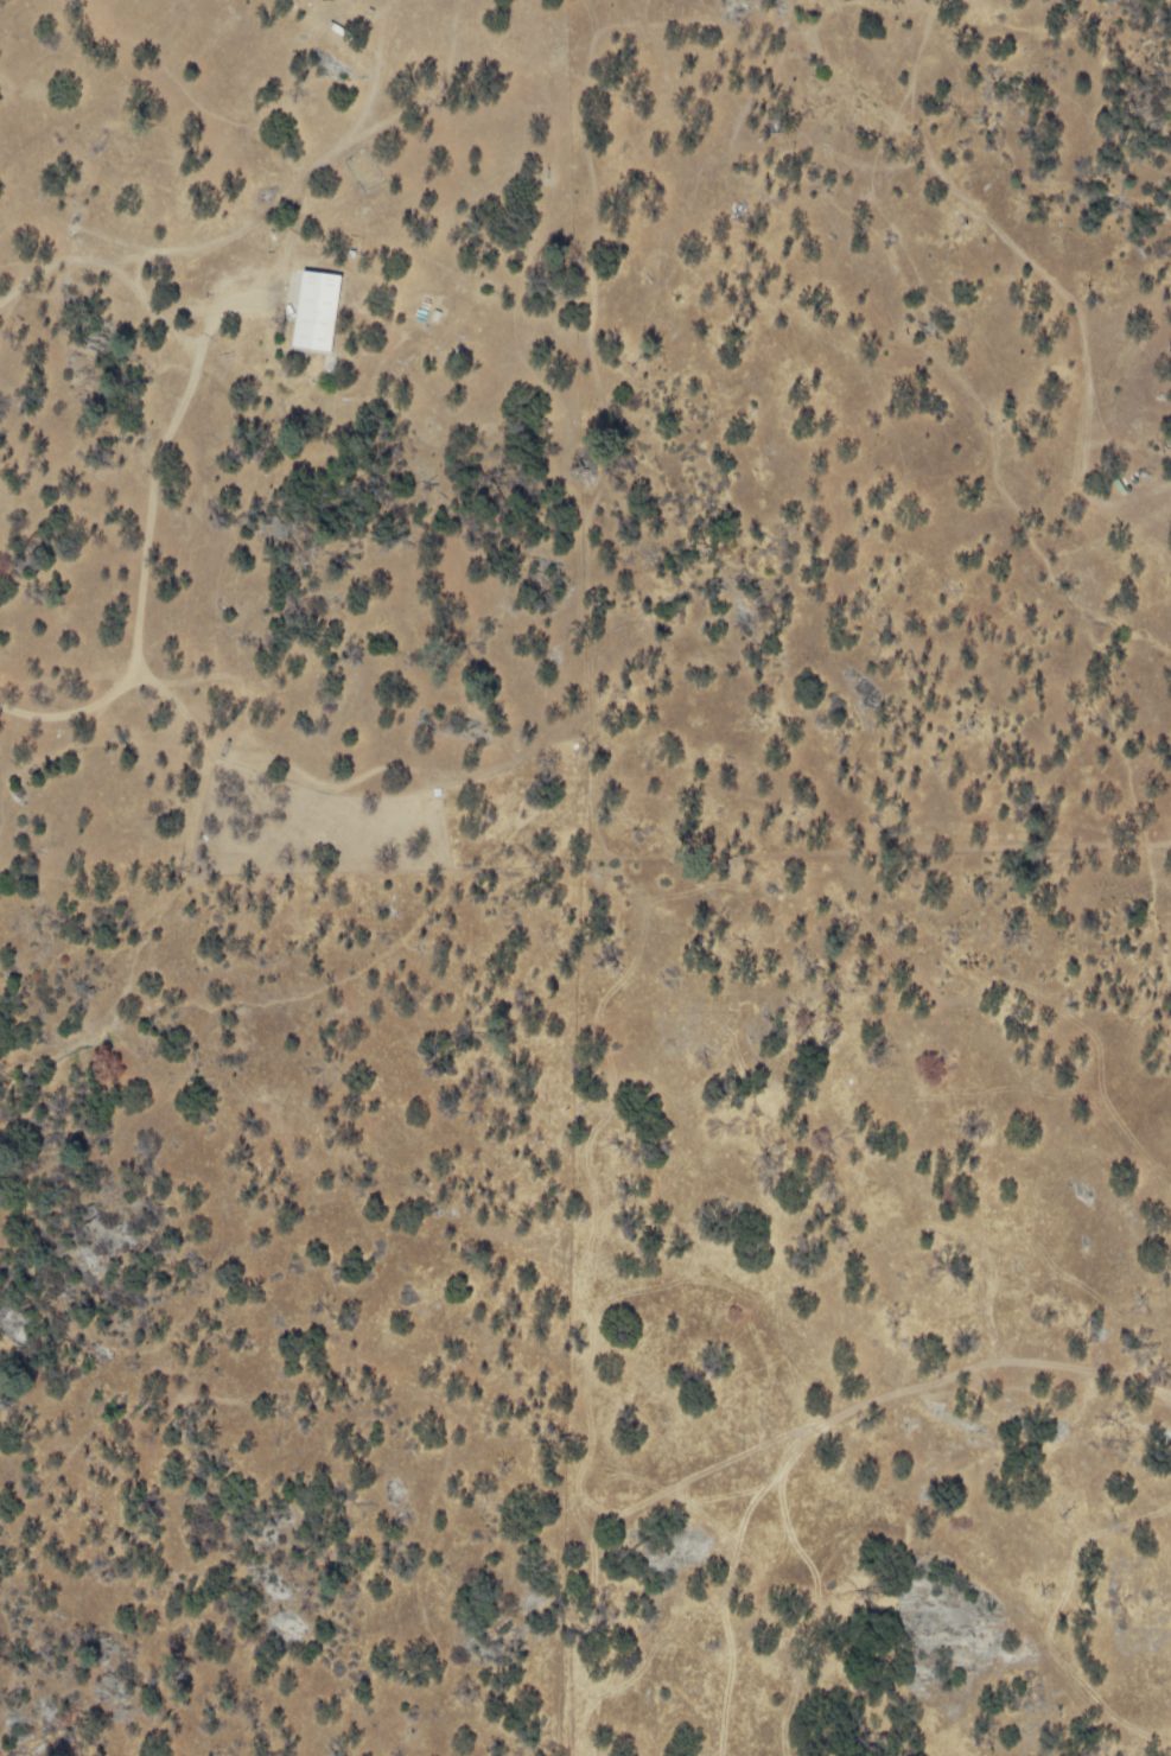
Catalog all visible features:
road: (108, 265)
building: (323, 311)
road: (147, 543)

